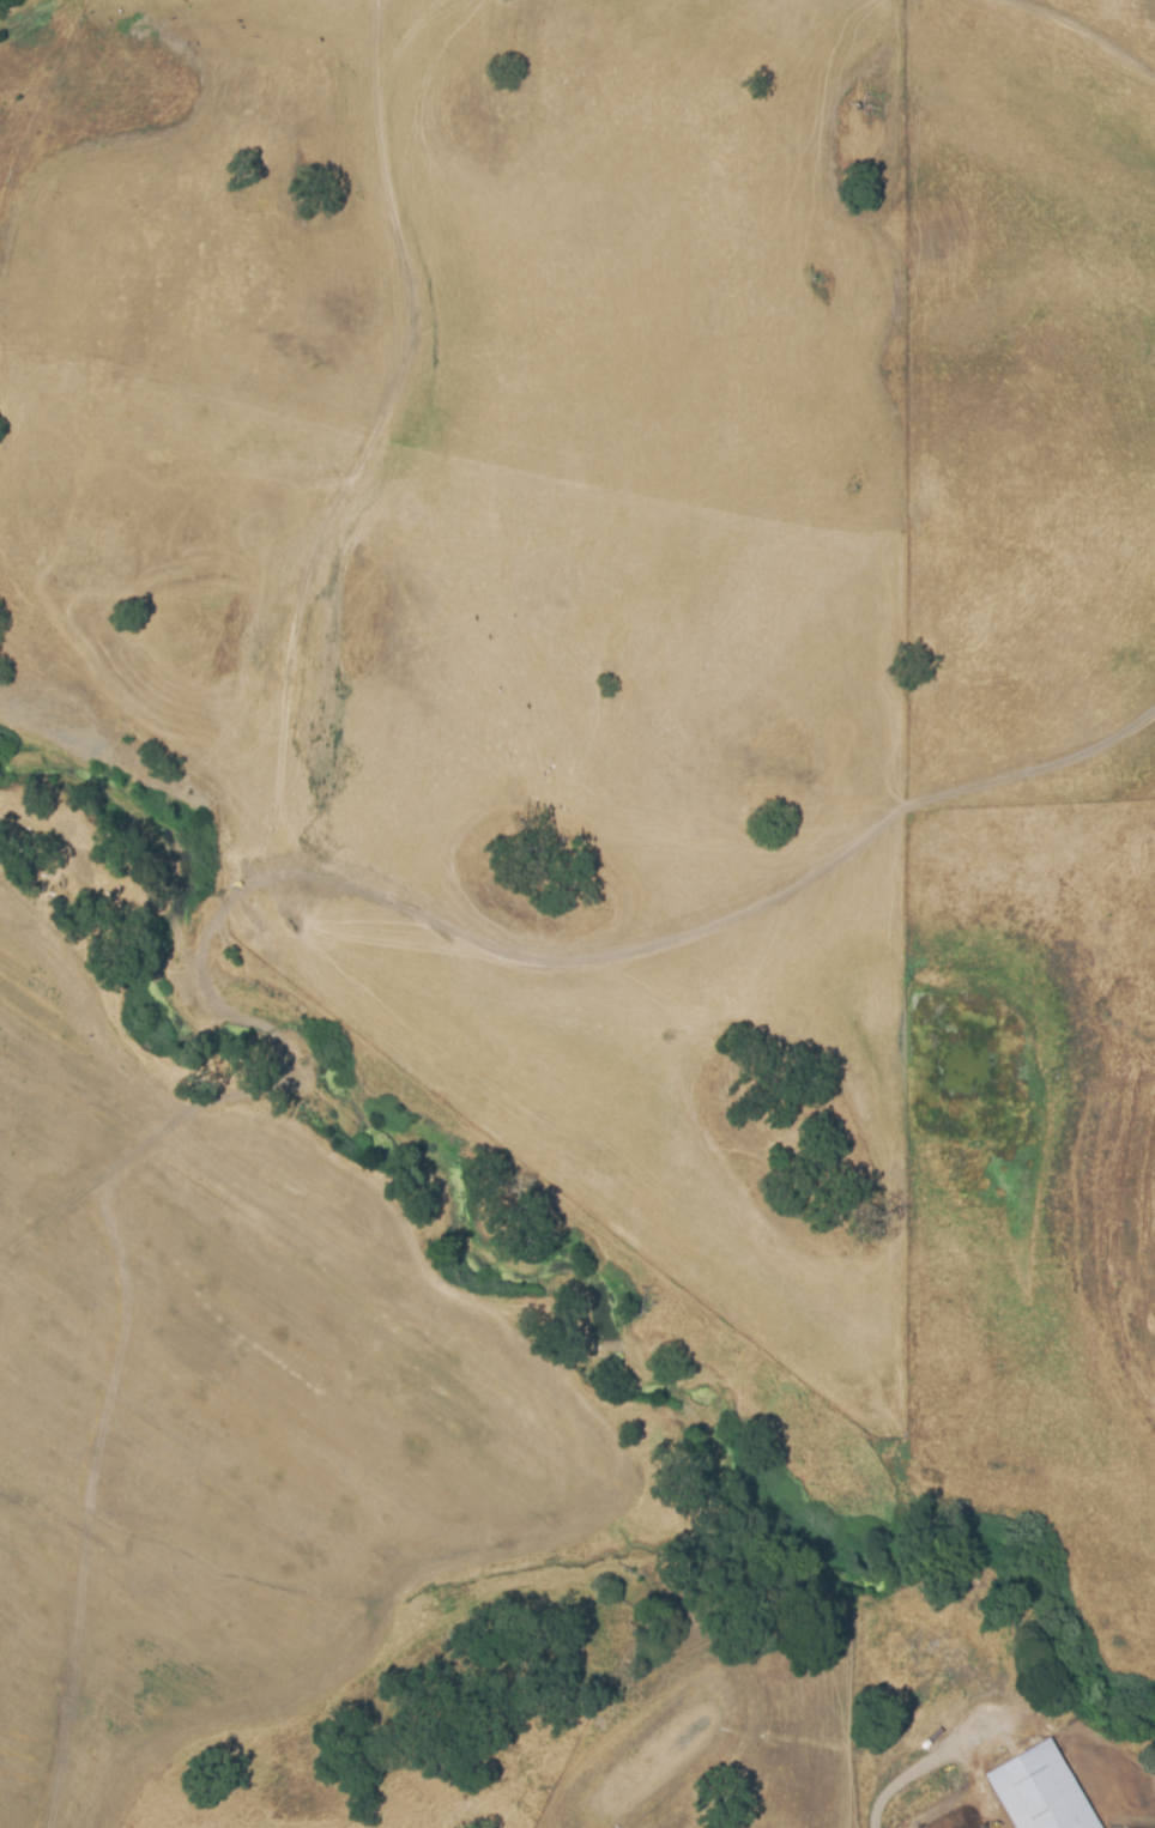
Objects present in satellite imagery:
building: (1048, 1788)

